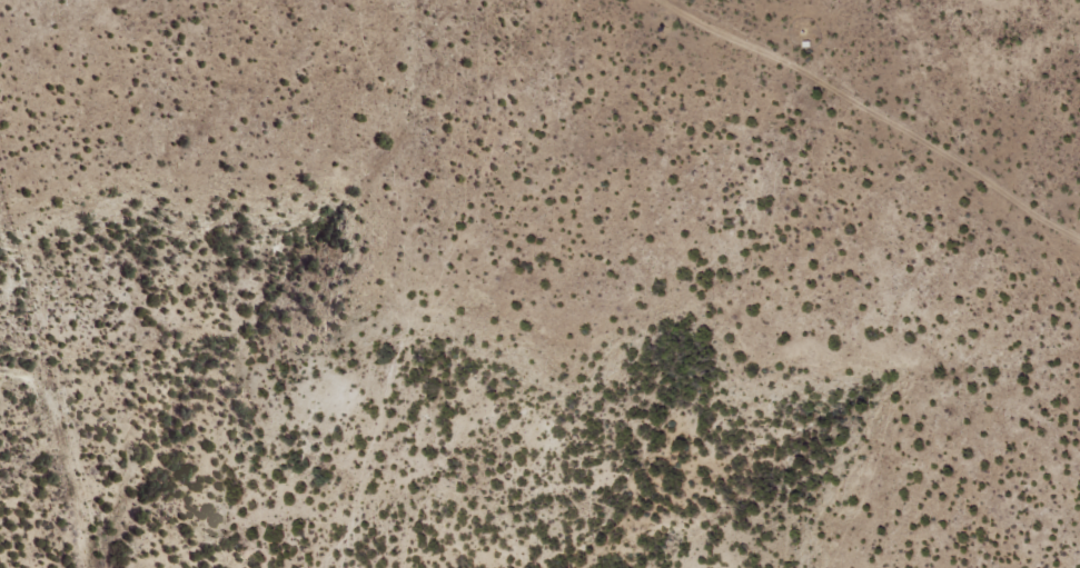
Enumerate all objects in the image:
road: (854, 126)
road: (407, 519)

